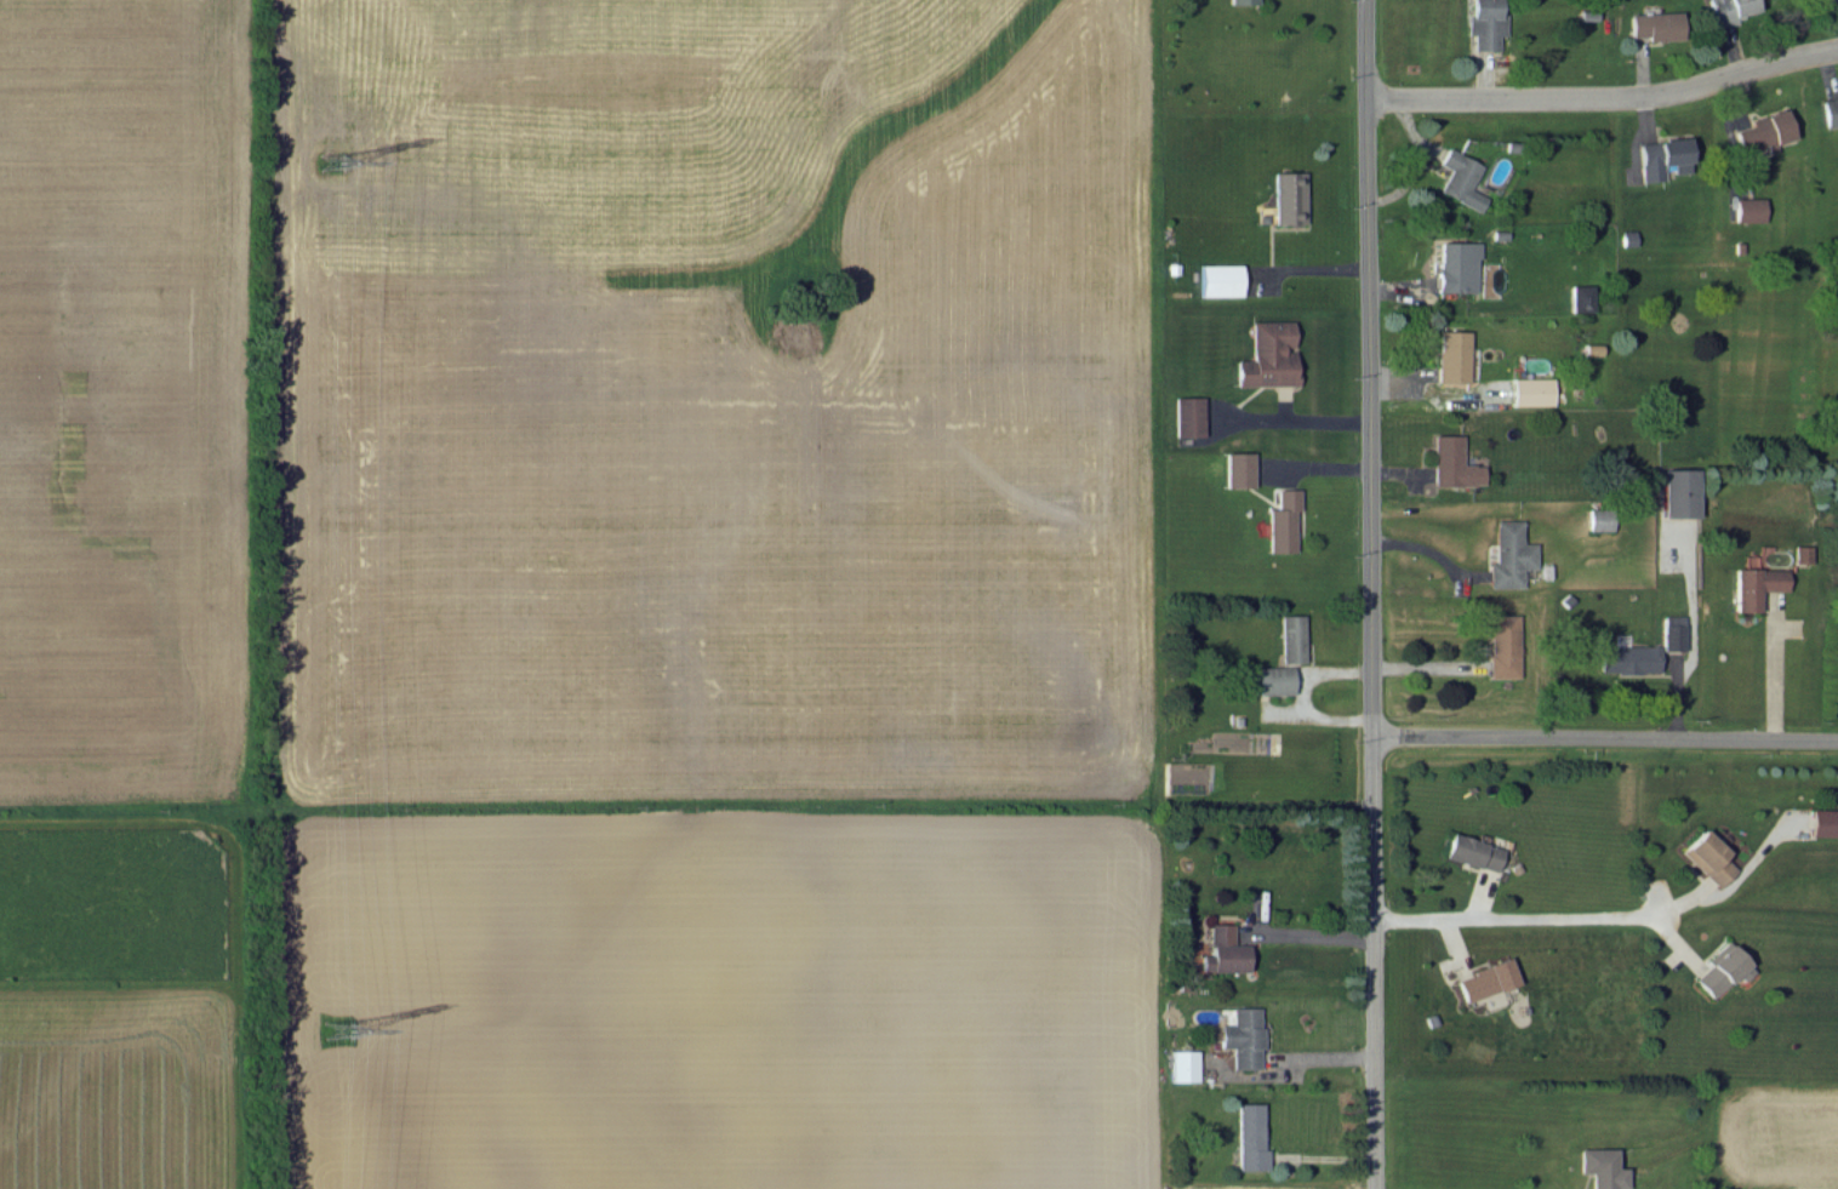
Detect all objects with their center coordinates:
building: (1240, 1)
building: (1729, 10)
building: (1480, 23)
building: (1654, 24)
road: (1605, 91)
building: (1830, 110)
building: (1763, 130)
building: (1661, 156)
power tower: (332, 161)
building: (1457, 178)
building: (1286, 196)
building: (1747, 208)
building: (1454, 265)
road: (1306, 267)
building: (1217, 279)
building: (1266, 355)
building: (1450, 355)
building: (1529, 390)
building: (1186, 416)
road: (1308, 422)
building: (1450, 462)
building: (1237, 468)
building: (1676, 492)
building: (1597, 519)
building: (1280, 520)
building: (1800, 553)
building: (1507, 554)
building: (1752, 583)
road: (1372, 594)
building: (1671, 635)
building: (1290, 638)
building: (1501, 645)
building: (1627, 658)
road: (1763, 670)
building: (1272, 679)
road: (1605, 738)
building: (1823, 822)
building: (1471, 851)
building: (1707, 857)
road: (1606, 913)
road: (1312, 933)
building: (1222, 950)
building: (1720, 970)
building: (1484, 979)
power tower: (337, 1034)
building: (1240, 1036)
building: (1181, 1064)
building: (1248, 1136)
building: (1599, 1167)

